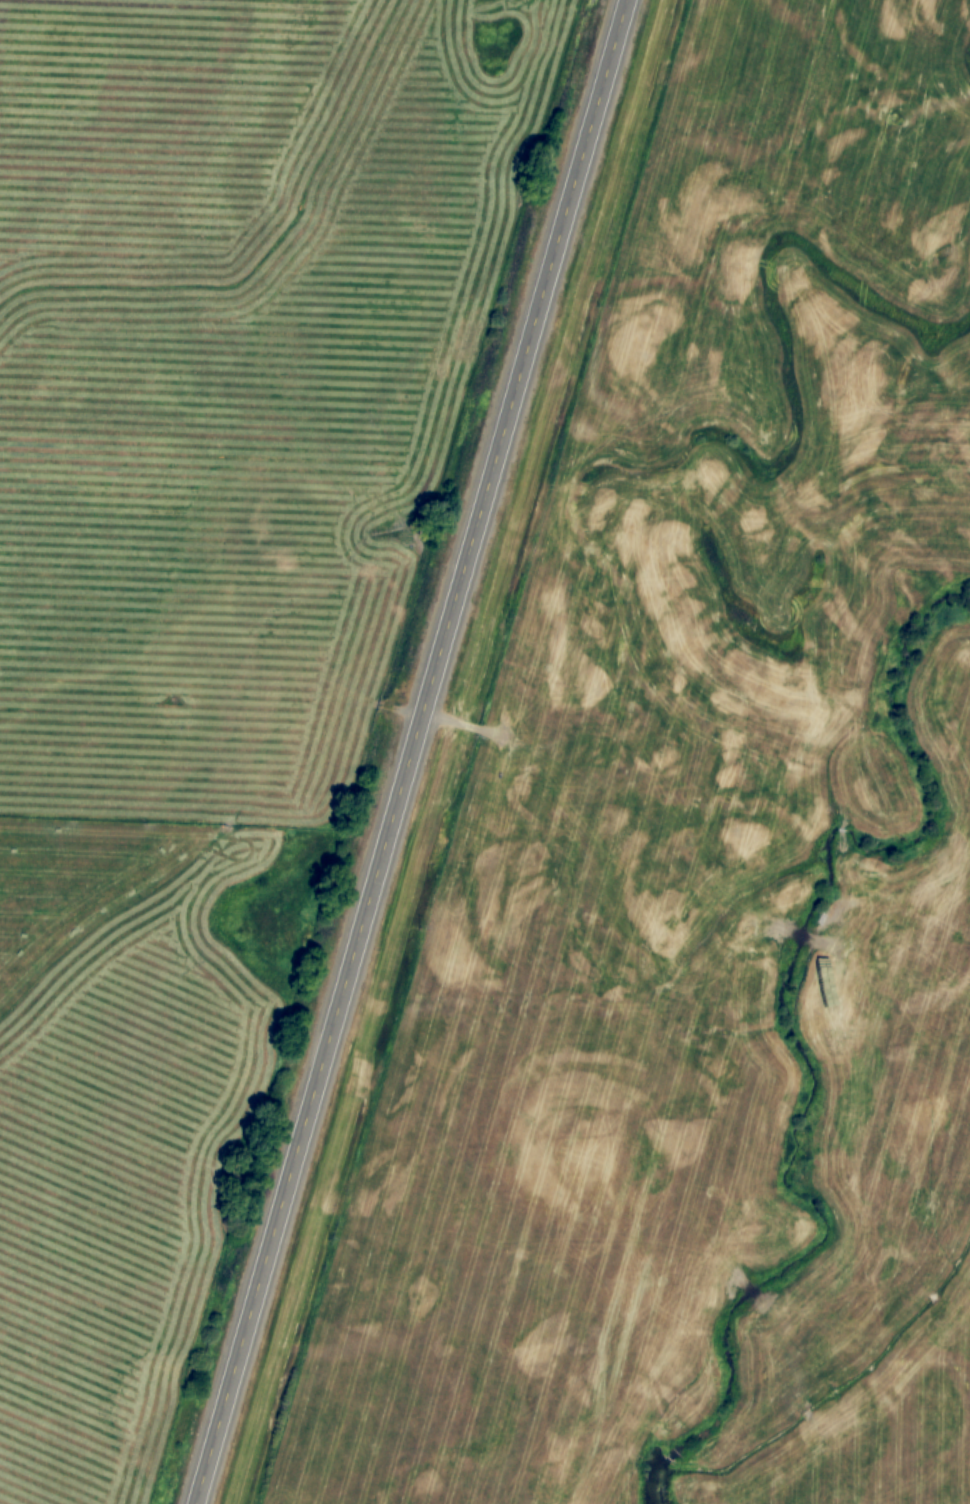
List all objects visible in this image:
road: (413, 752)

